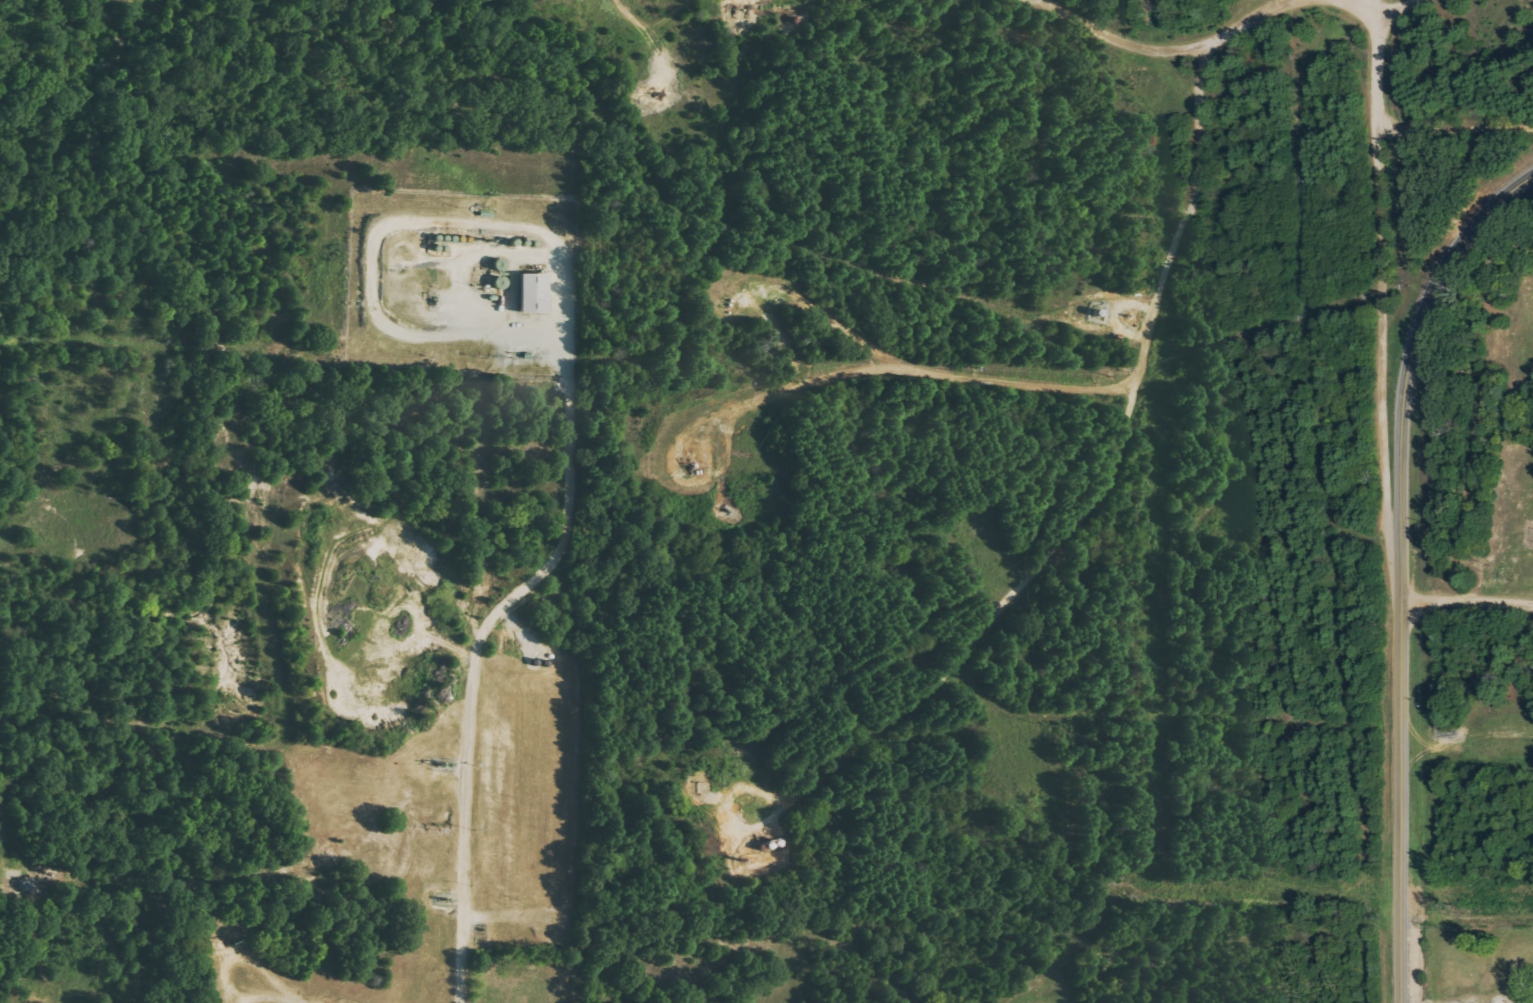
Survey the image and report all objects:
road: (1120, 38)
road: (1454, 131)
road: (1378, 195)
road: (1502, 236)
building: (528, 294)
road: (1109, 473)
road: (572, 487)
road: (1399, 566)
road: (1466, 597)
road: (396, 635)
road: (3, 785)
road: (465, 828)
road: (13, 873)
road: (1461, 931)

